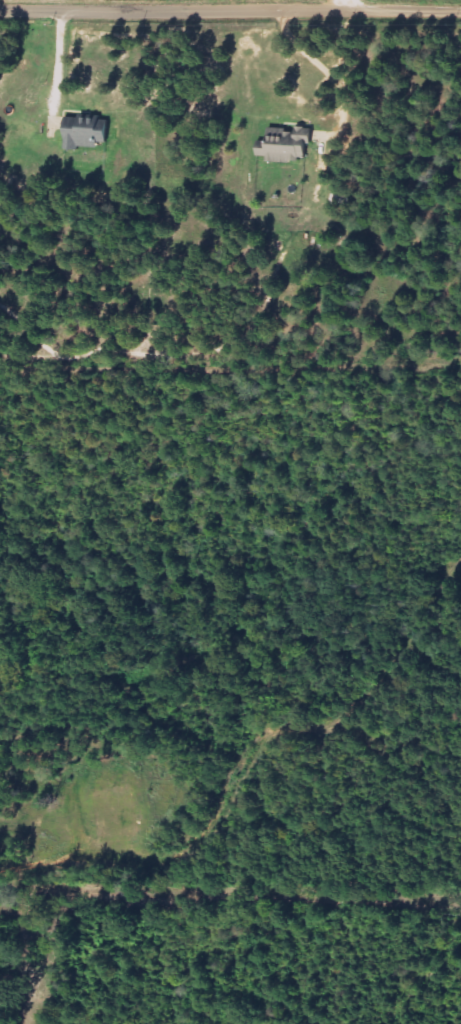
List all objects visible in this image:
road: (230, 12)
building: (87, 134)
building: (287, 145)

